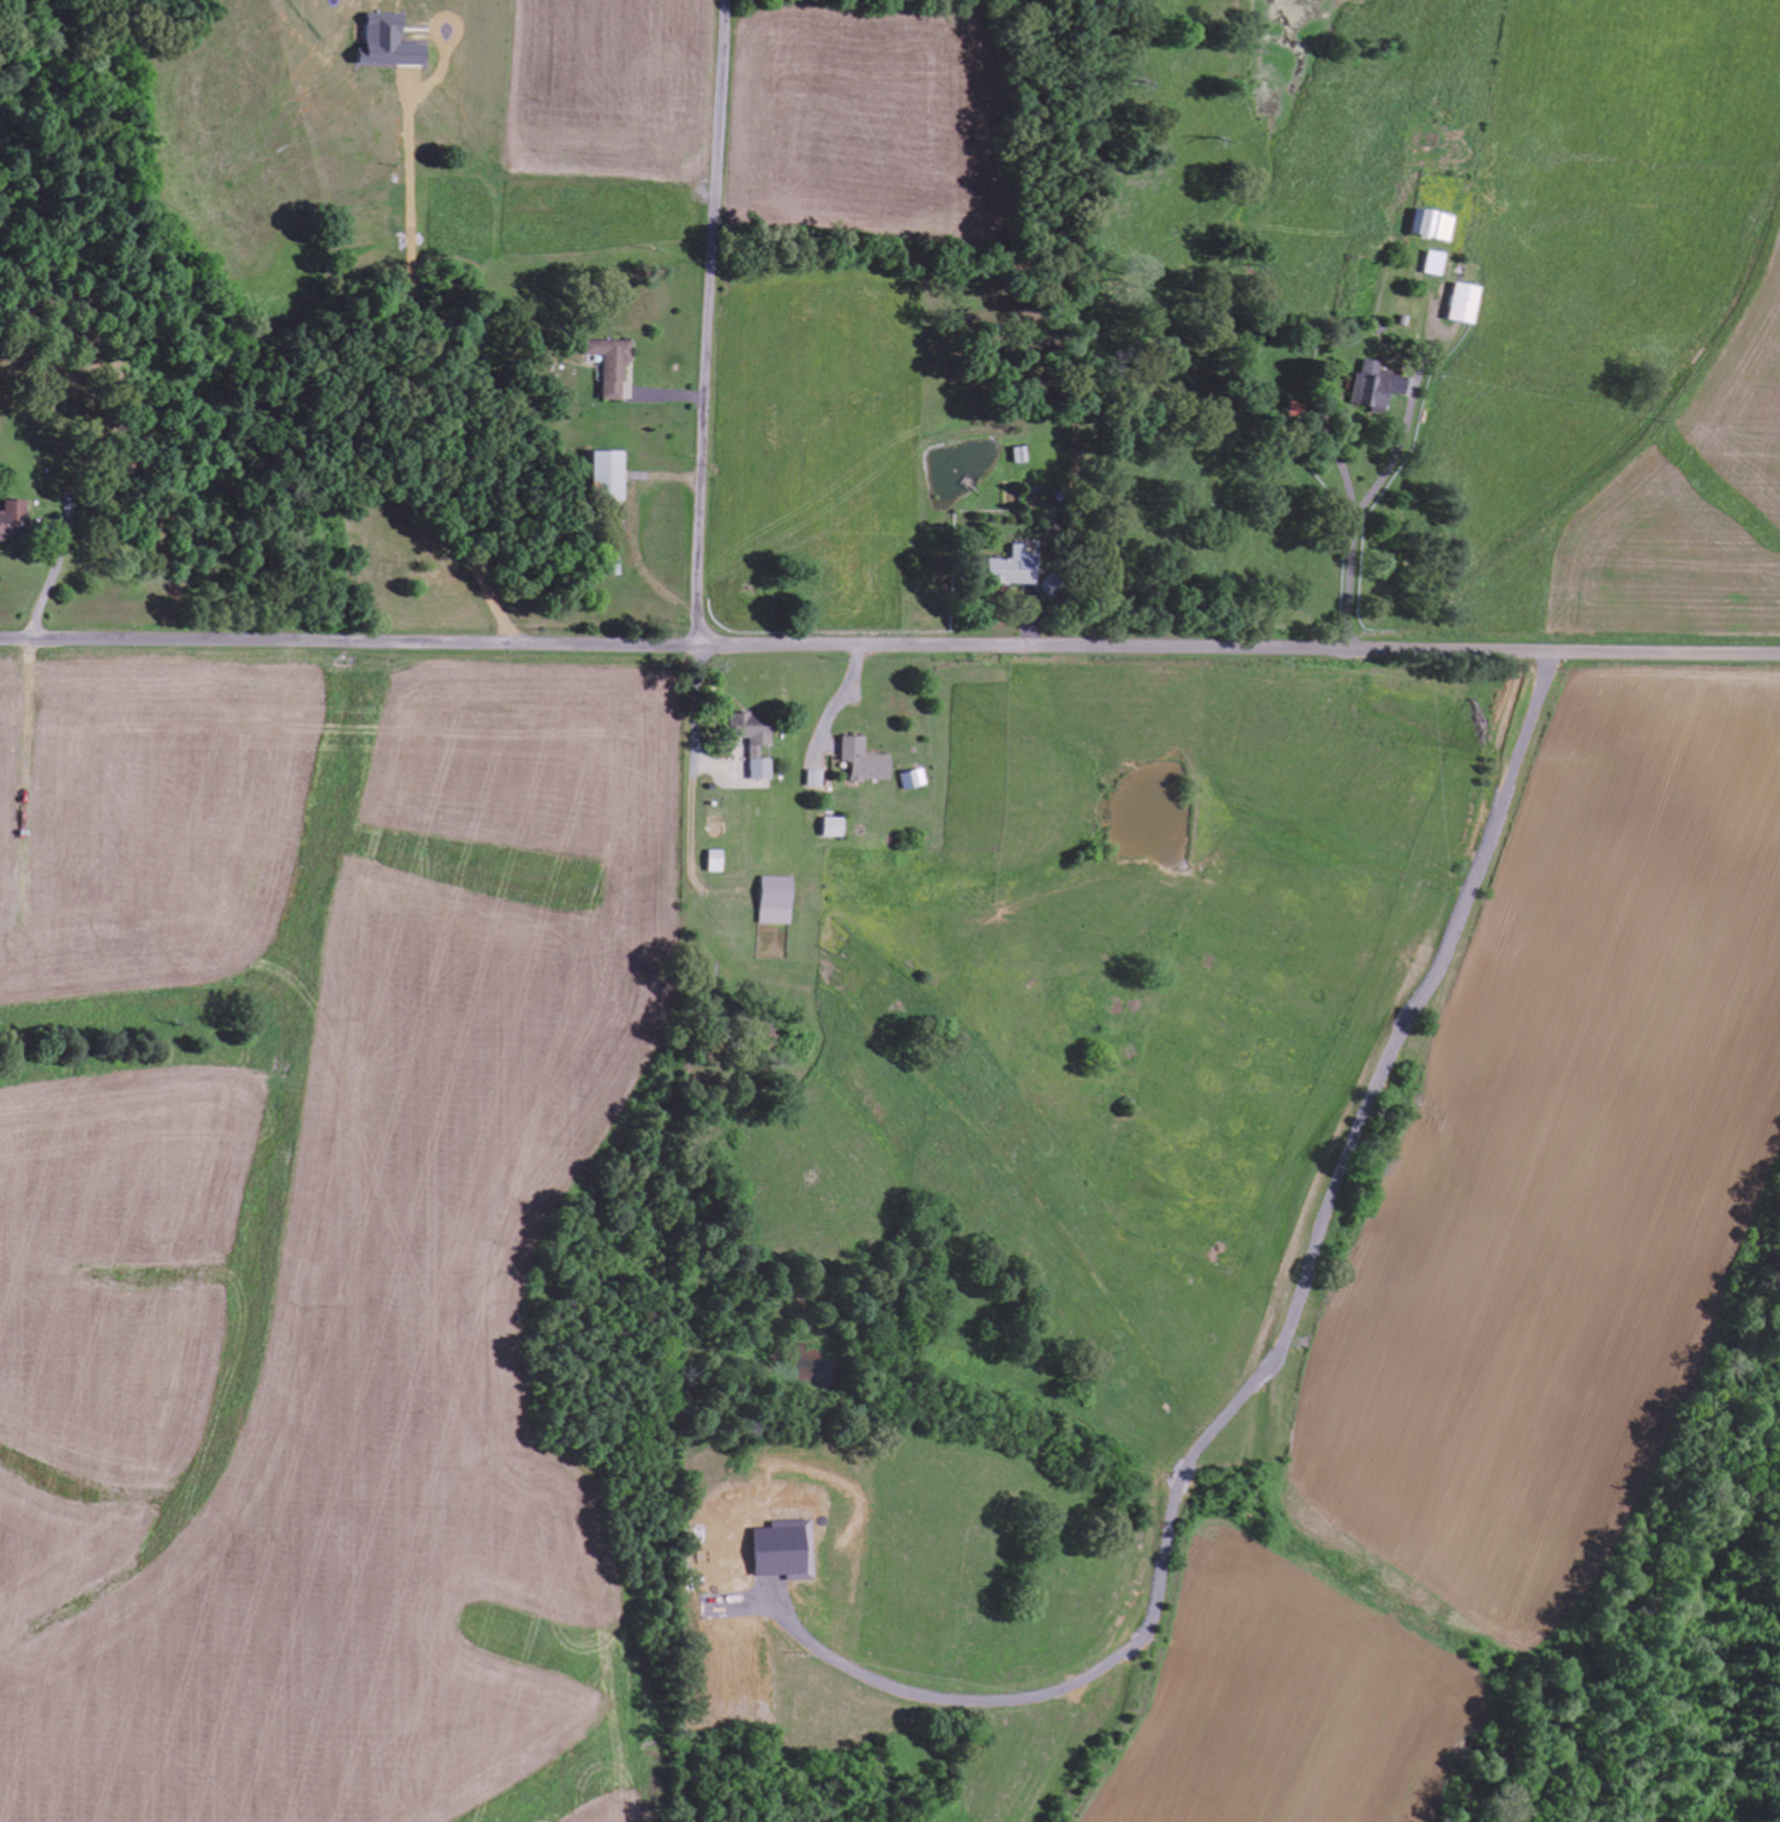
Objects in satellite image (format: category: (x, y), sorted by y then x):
building: (395, 43)
building: (1429, 264)
building: (1456, 305)
road: (710, 323)
building: (617, 367)
building: (1373, 386)
building: (1018, 456)
building: (615, 473)
building: (1006, 570)
road: (890, 647)
building: (748, 744)
building: (859, 760)
building: (812, 778)
building: (910, 778)
building: (830, 828)
building: (714, 861)
building: (775, 900)

